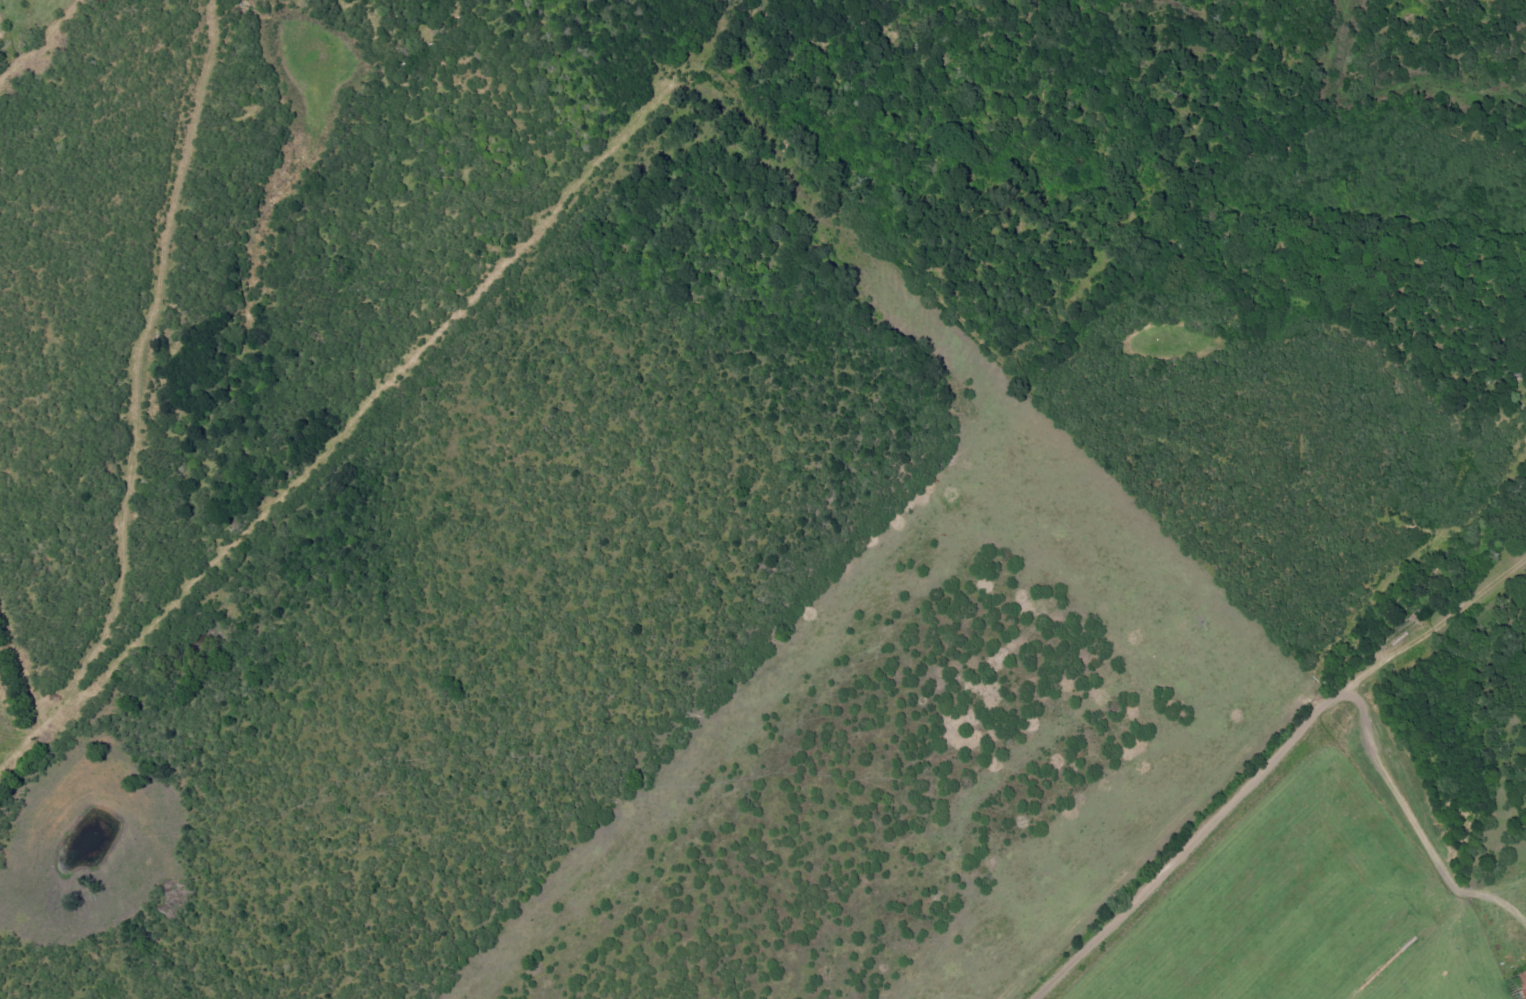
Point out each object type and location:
road: (1432, 625)
road: (1299, 733)
building: (1518, 986)

